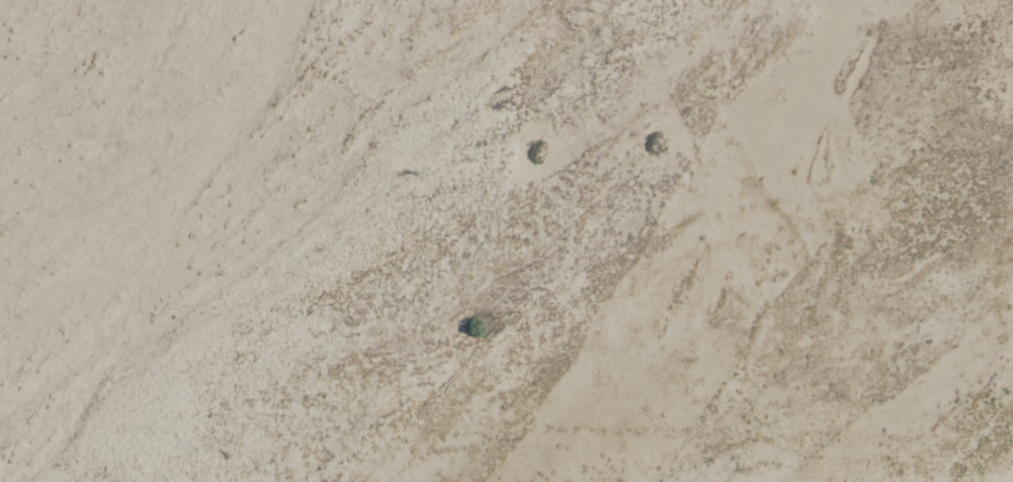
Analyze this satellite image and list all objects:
river: (42, 47)

